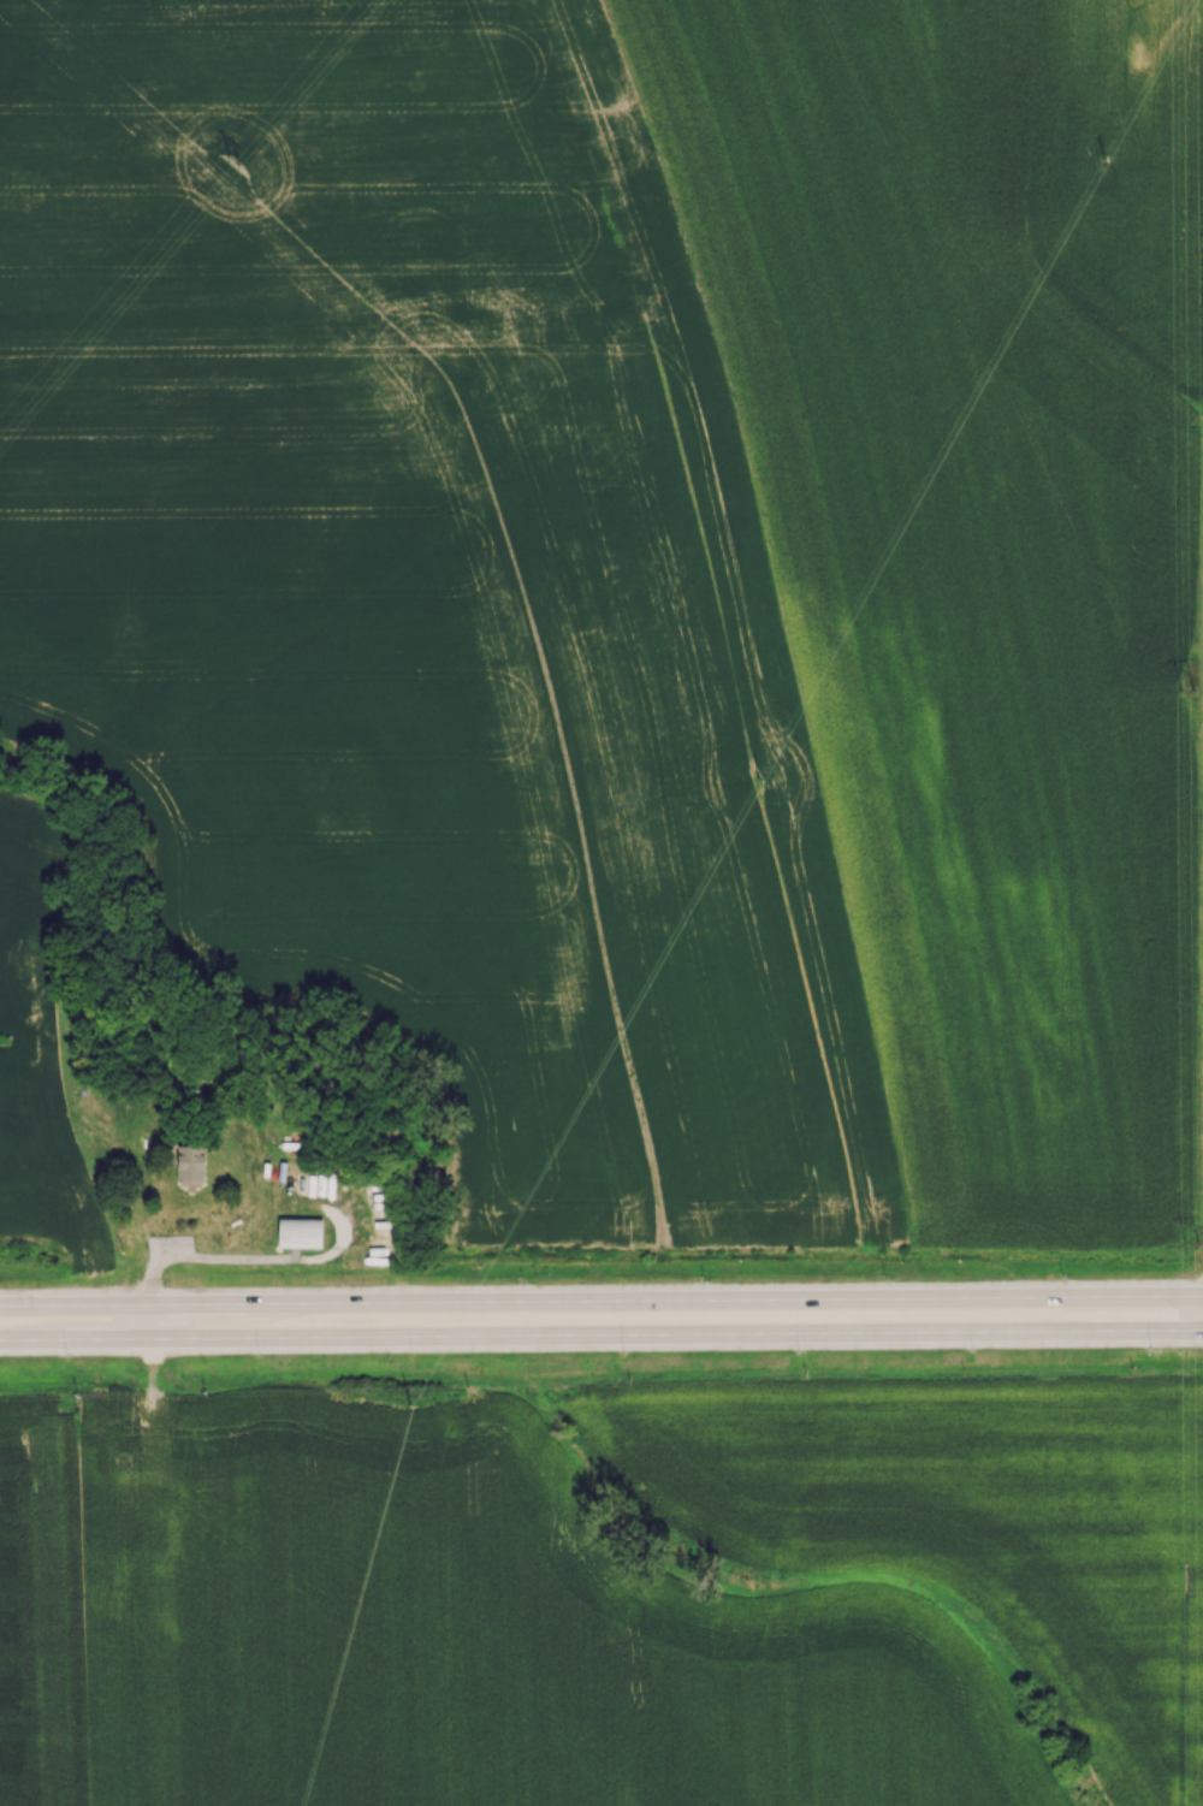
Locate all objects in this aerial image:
power tower: (236, 166)
power tower: (1187, 689)
building: (189, 1163)
building: (298, 1232)
power tower: (1197, 1242)
road: (202, 1260)
road: (601, 1302)
road: (148, 1322)
road: (601, 1336)
crop: (647, 1595)
crop: (43, 1606)

